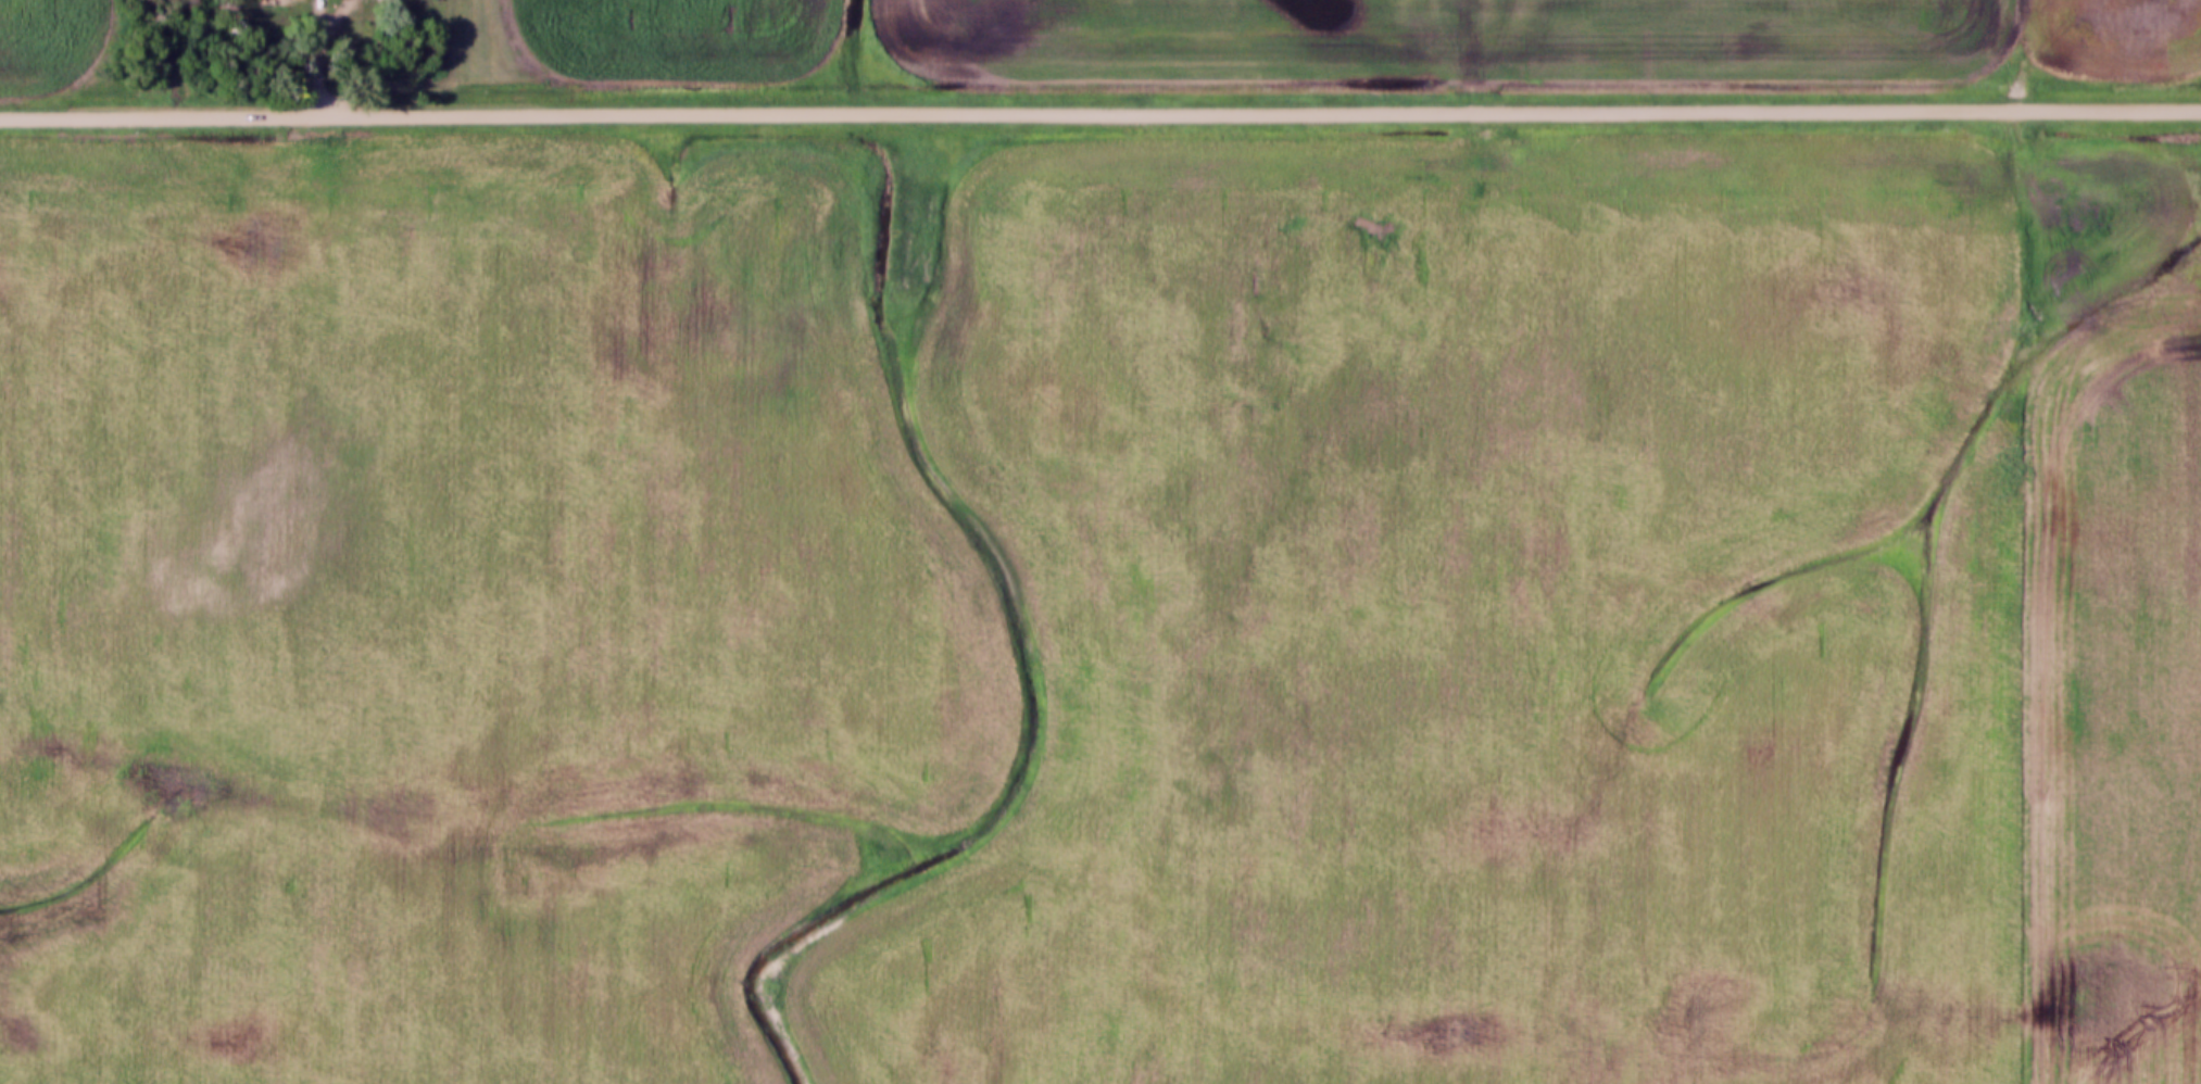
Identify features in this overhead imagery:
building: (284, 0)
building: (386, 0)
road: (318, 51)
road: (1099, 109)

